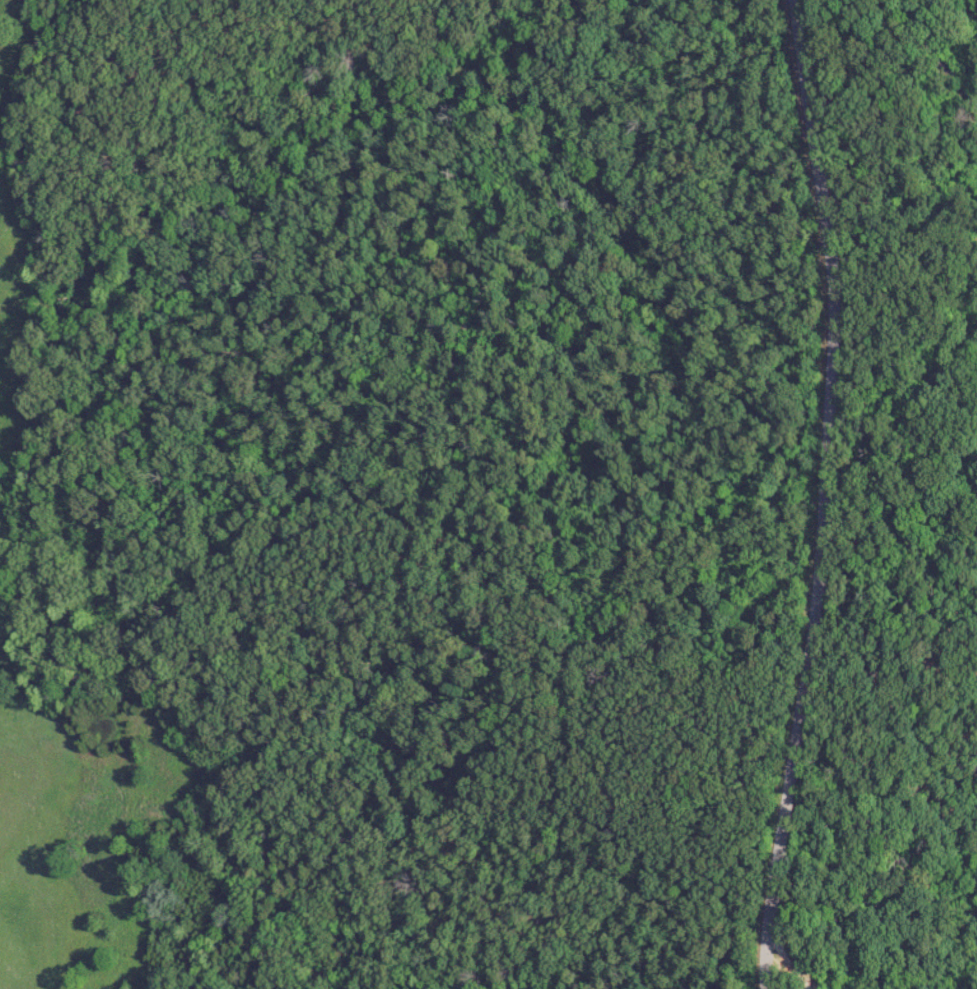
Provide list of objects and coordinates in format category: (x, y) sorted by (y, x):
road: (932, 52)
road: (834, 496)
road: (802, 946)

